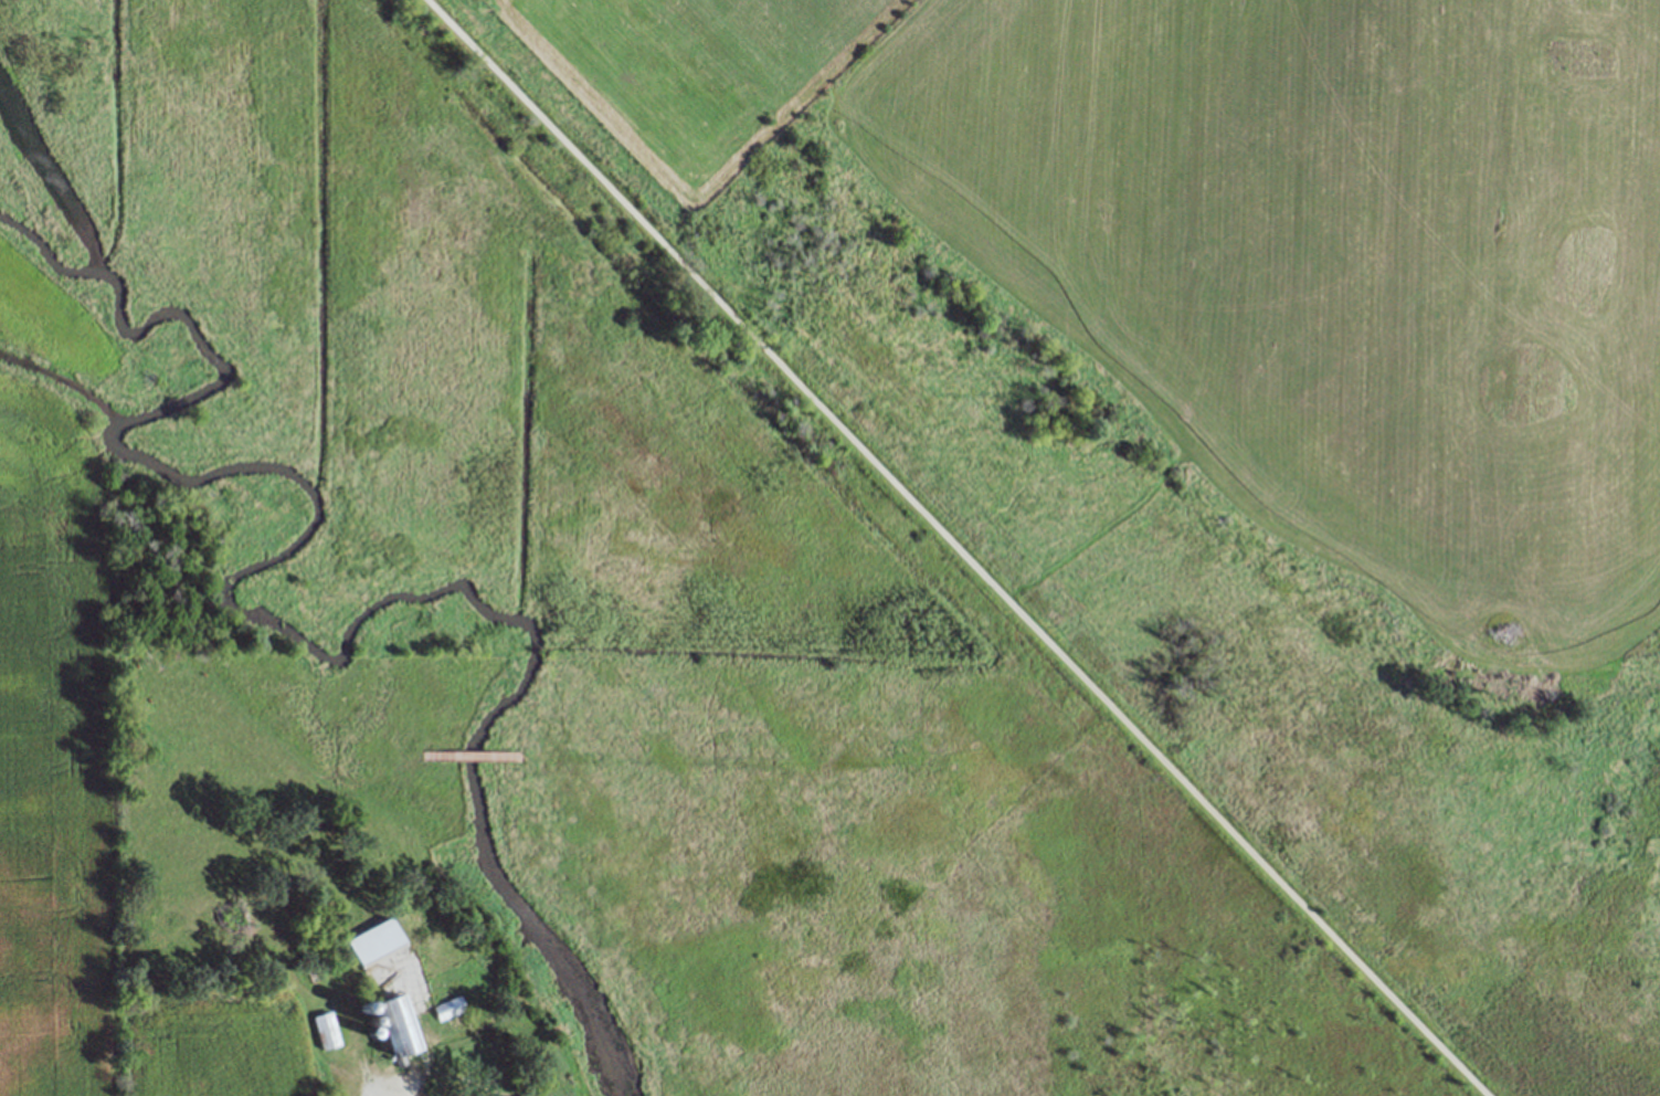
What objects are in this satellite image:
road: (954, 547)
crop: (83, 767)
building: (371, 944)
building: (446, 1008)
building: (390, 1029)
building: (324, 1030)
road: (381, 1087)

